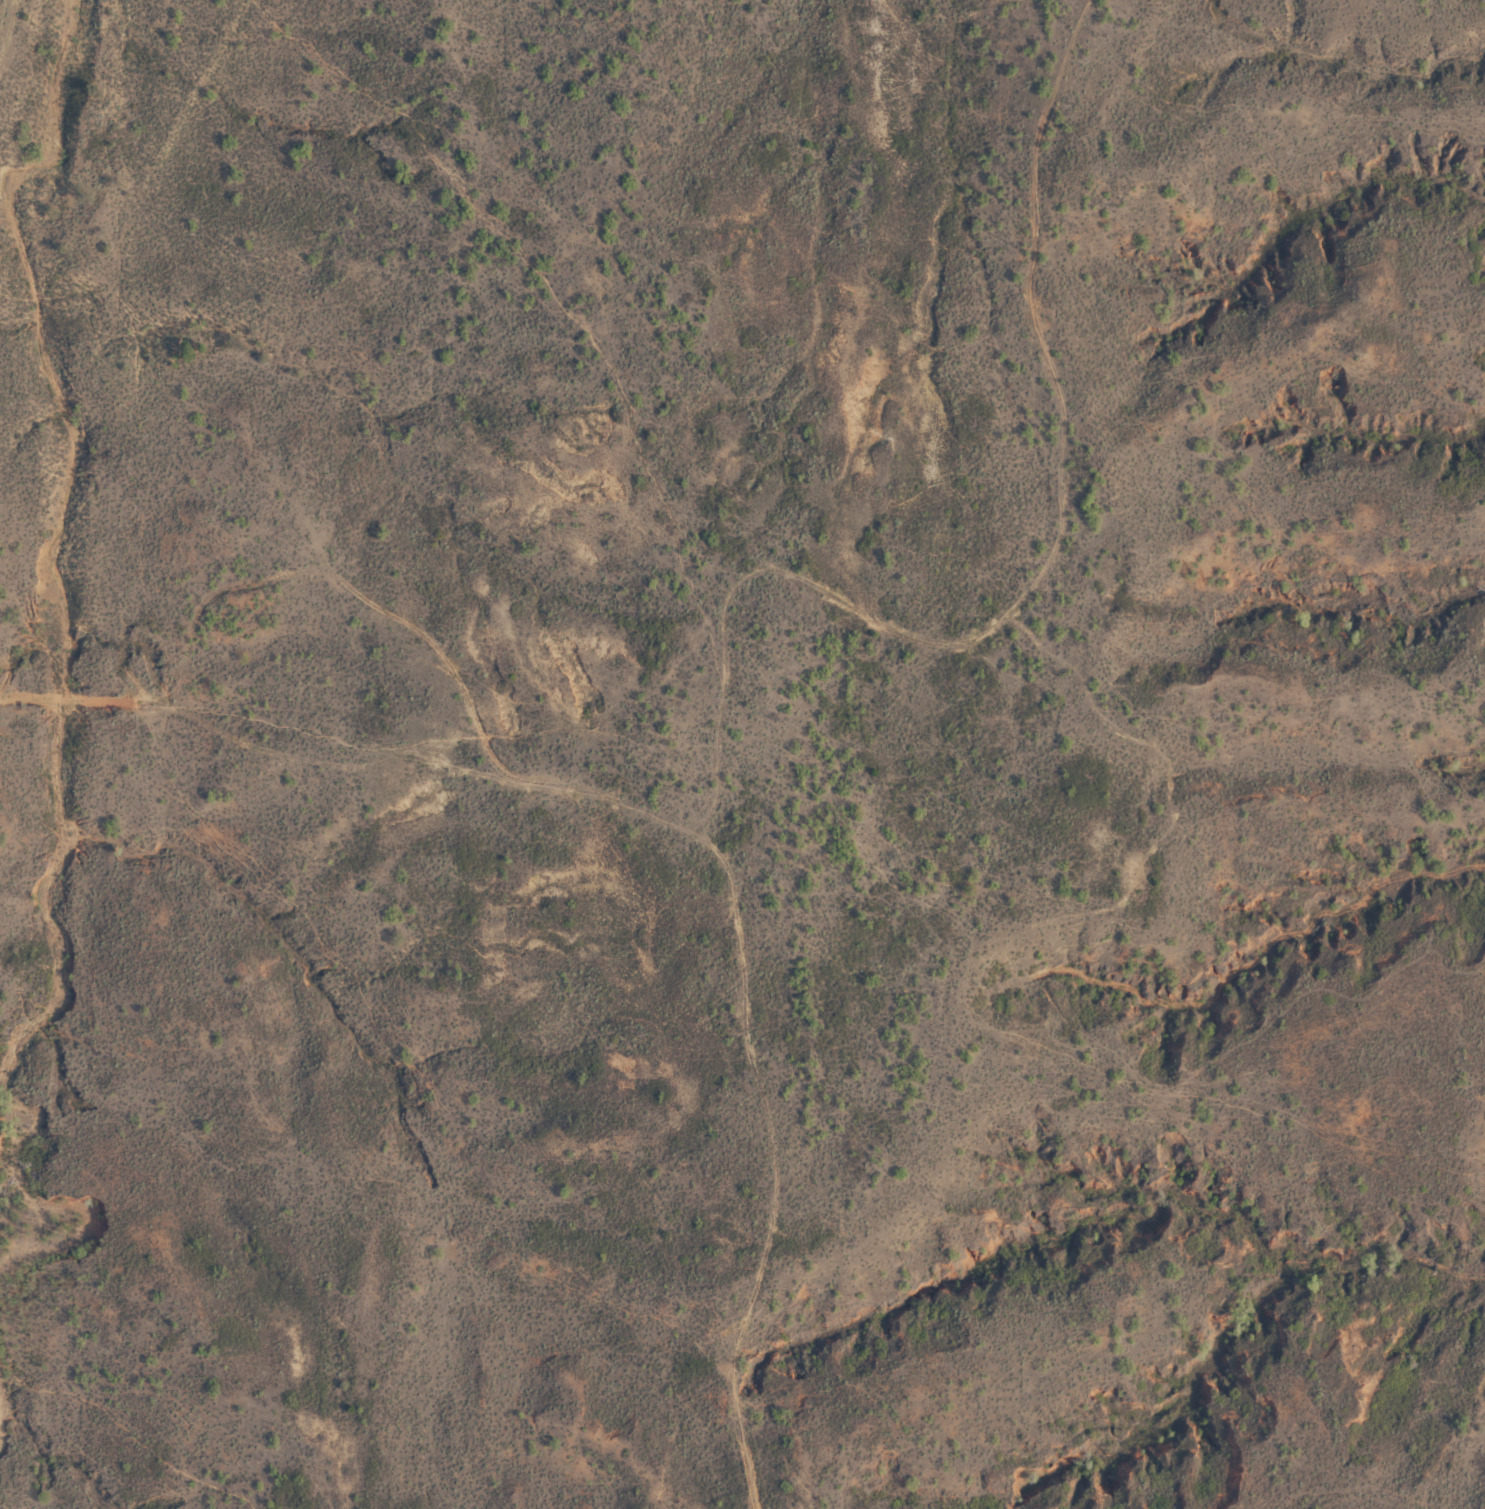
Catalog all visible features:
road: (745, 614)

